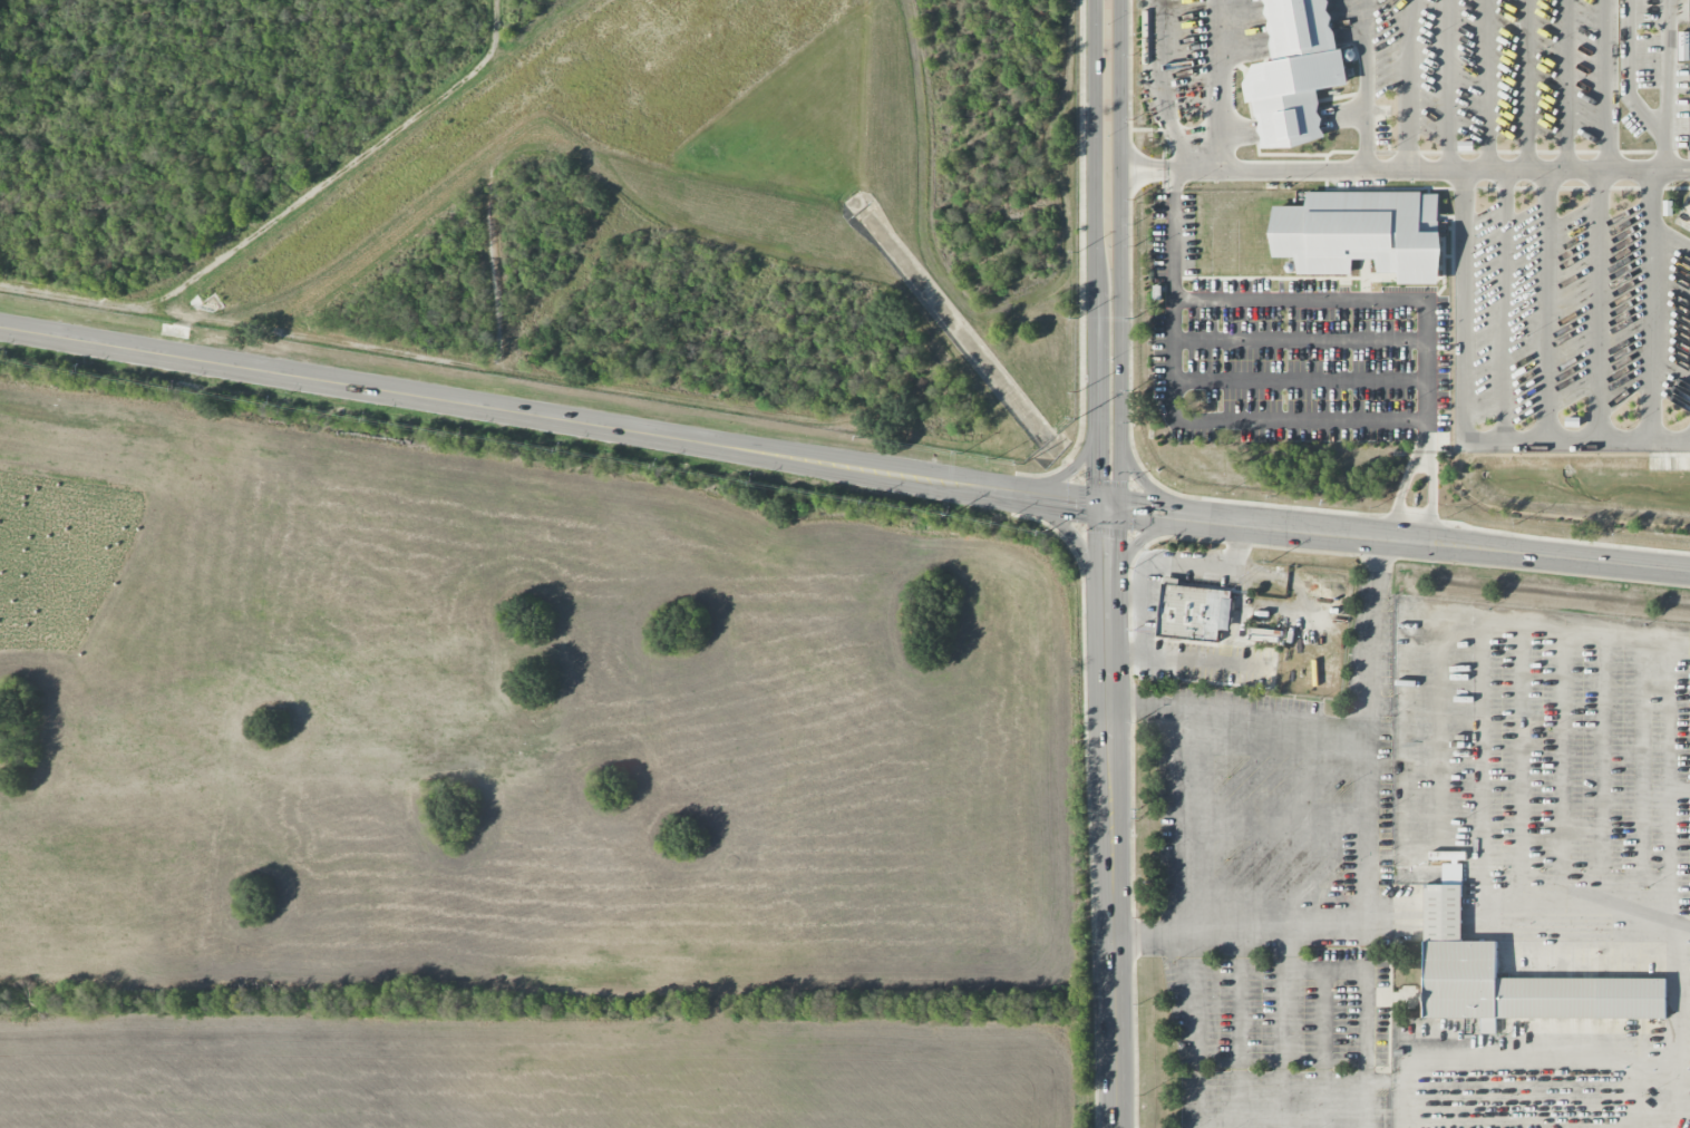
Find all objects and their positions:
building: (1683, 51)
road: (1667, 68)
building: (1294, 74)
road: (1630, 74)
road: (1363, 84)
road: (1409, 84)
road: (1221, 85)
road: (1449, 85)
road: (1489, 85)
road: (1526, 85)
road: (1566, 85)
road: (1608, 85)
road: (1164, 87)
road: (1095, 145)
road: (1664, 153)
road: (1404, 167)
building: (1429, 227)
building: (1361, 235)
road: (1118, 255)
road: (1465, 304)
road: (1301, 341)
road: (1301, 381)
road: (1651, 395)
road: (1096, 400)
road: (1366, 421)
road: (1425, 440)
road: (1422, 460)
road: (842, 468)
road: (1067, 473)
road: (1144, 484)
traffic signals: (1107, 509)
road: (1409, 532)
road: (1070, 535)
road: (1137, 544)
building: (1188, 613)
road: (1371, 633)
road: (1364, 737)
road: (1111, 818)
road: (1187, 818)
road: (1671, 950)
building: (1460, 960)
road: (1300, 967)
road: (1240, 1029)
road: (1194, 1030)
road: (1389, 1079)
road: (1411, 1103)
road: (1641, 1120)

